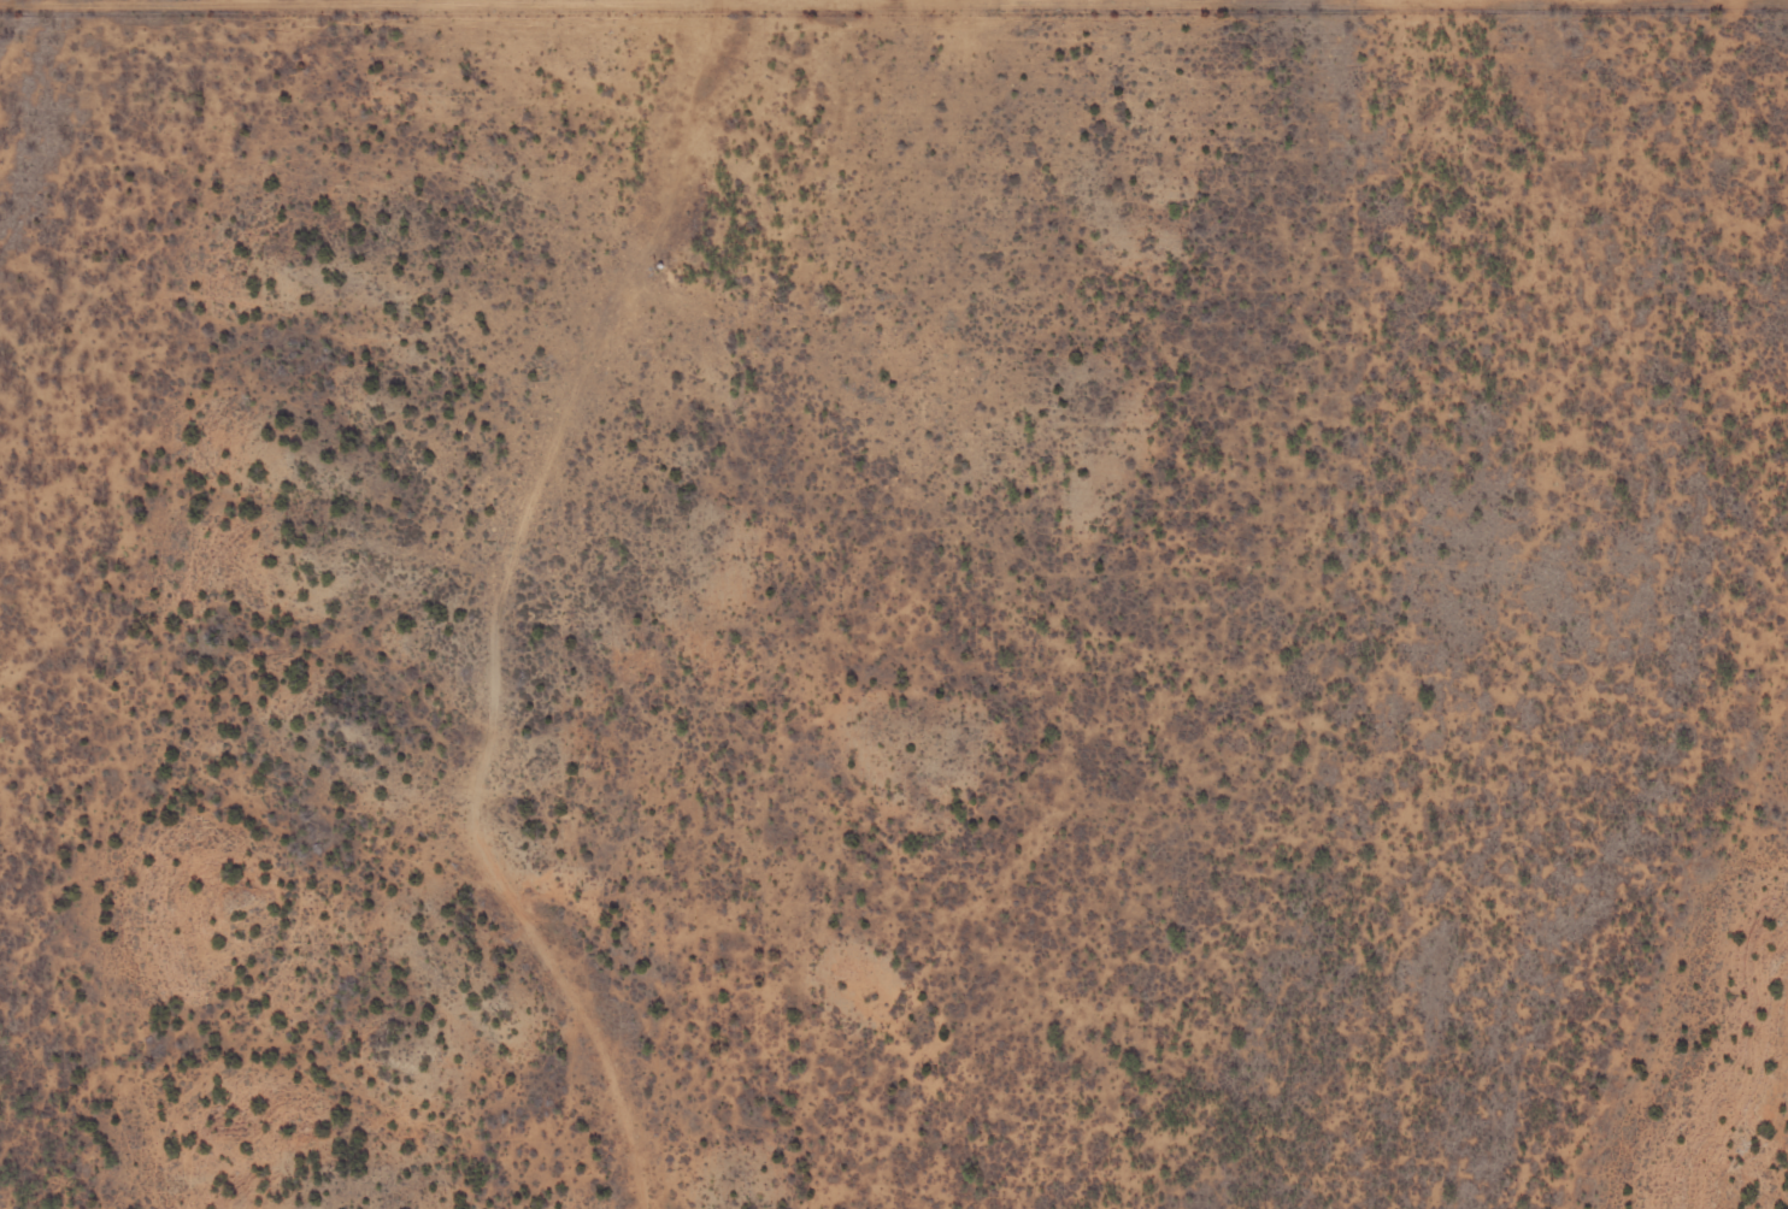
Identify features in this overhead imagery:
road: (276, 10)

